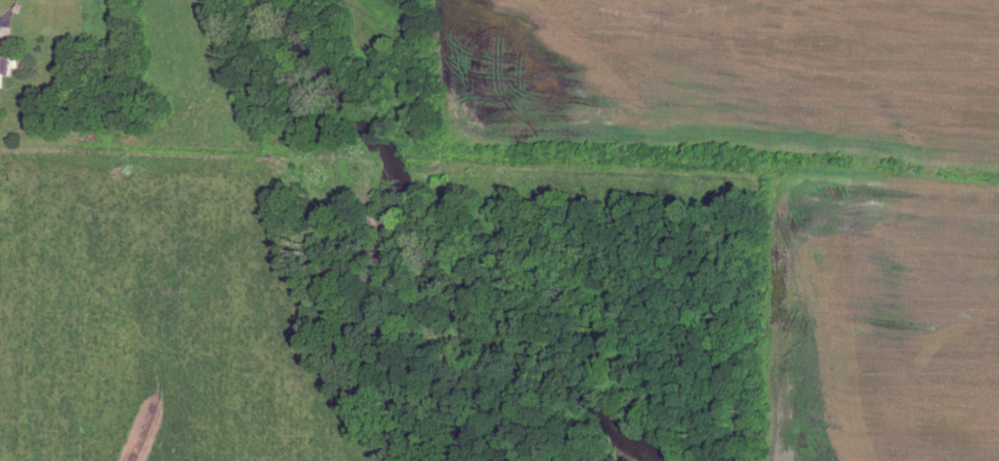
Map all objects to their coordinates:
building: (5, 57)

